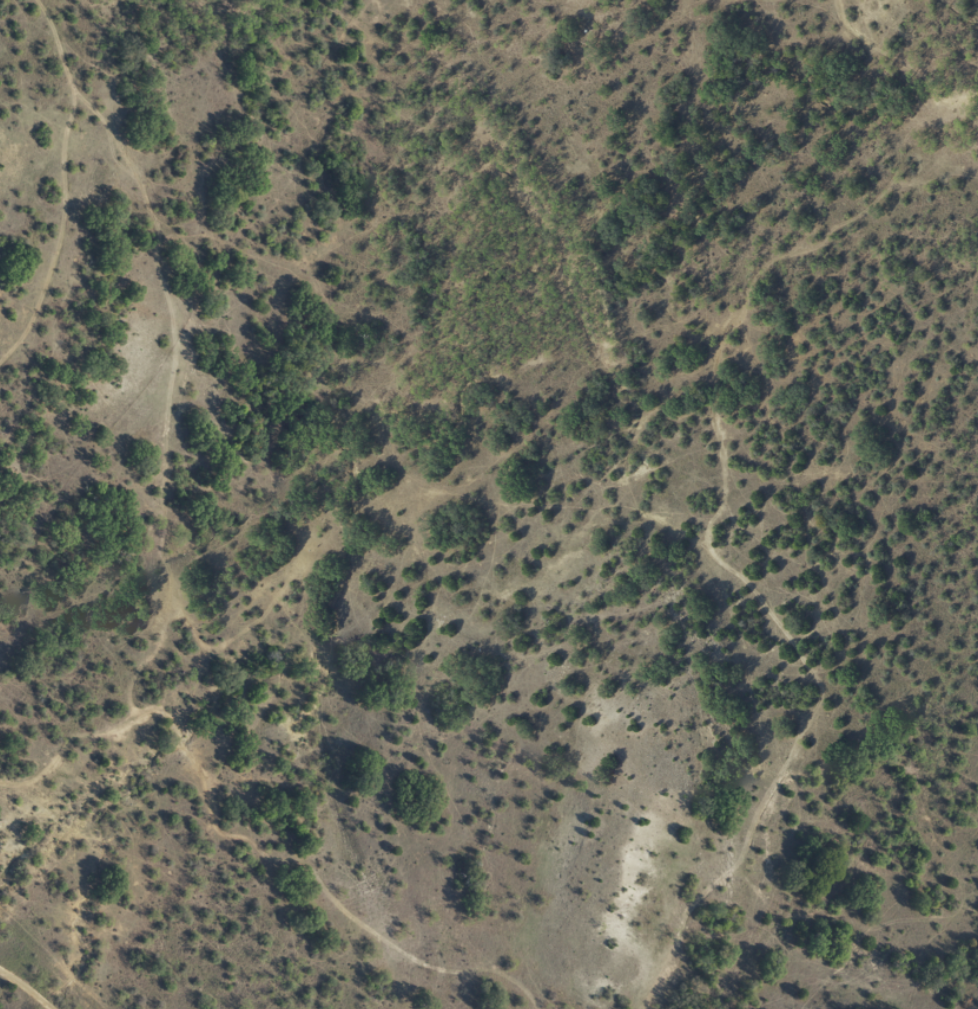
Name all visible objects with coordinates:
road: (34, 978)

